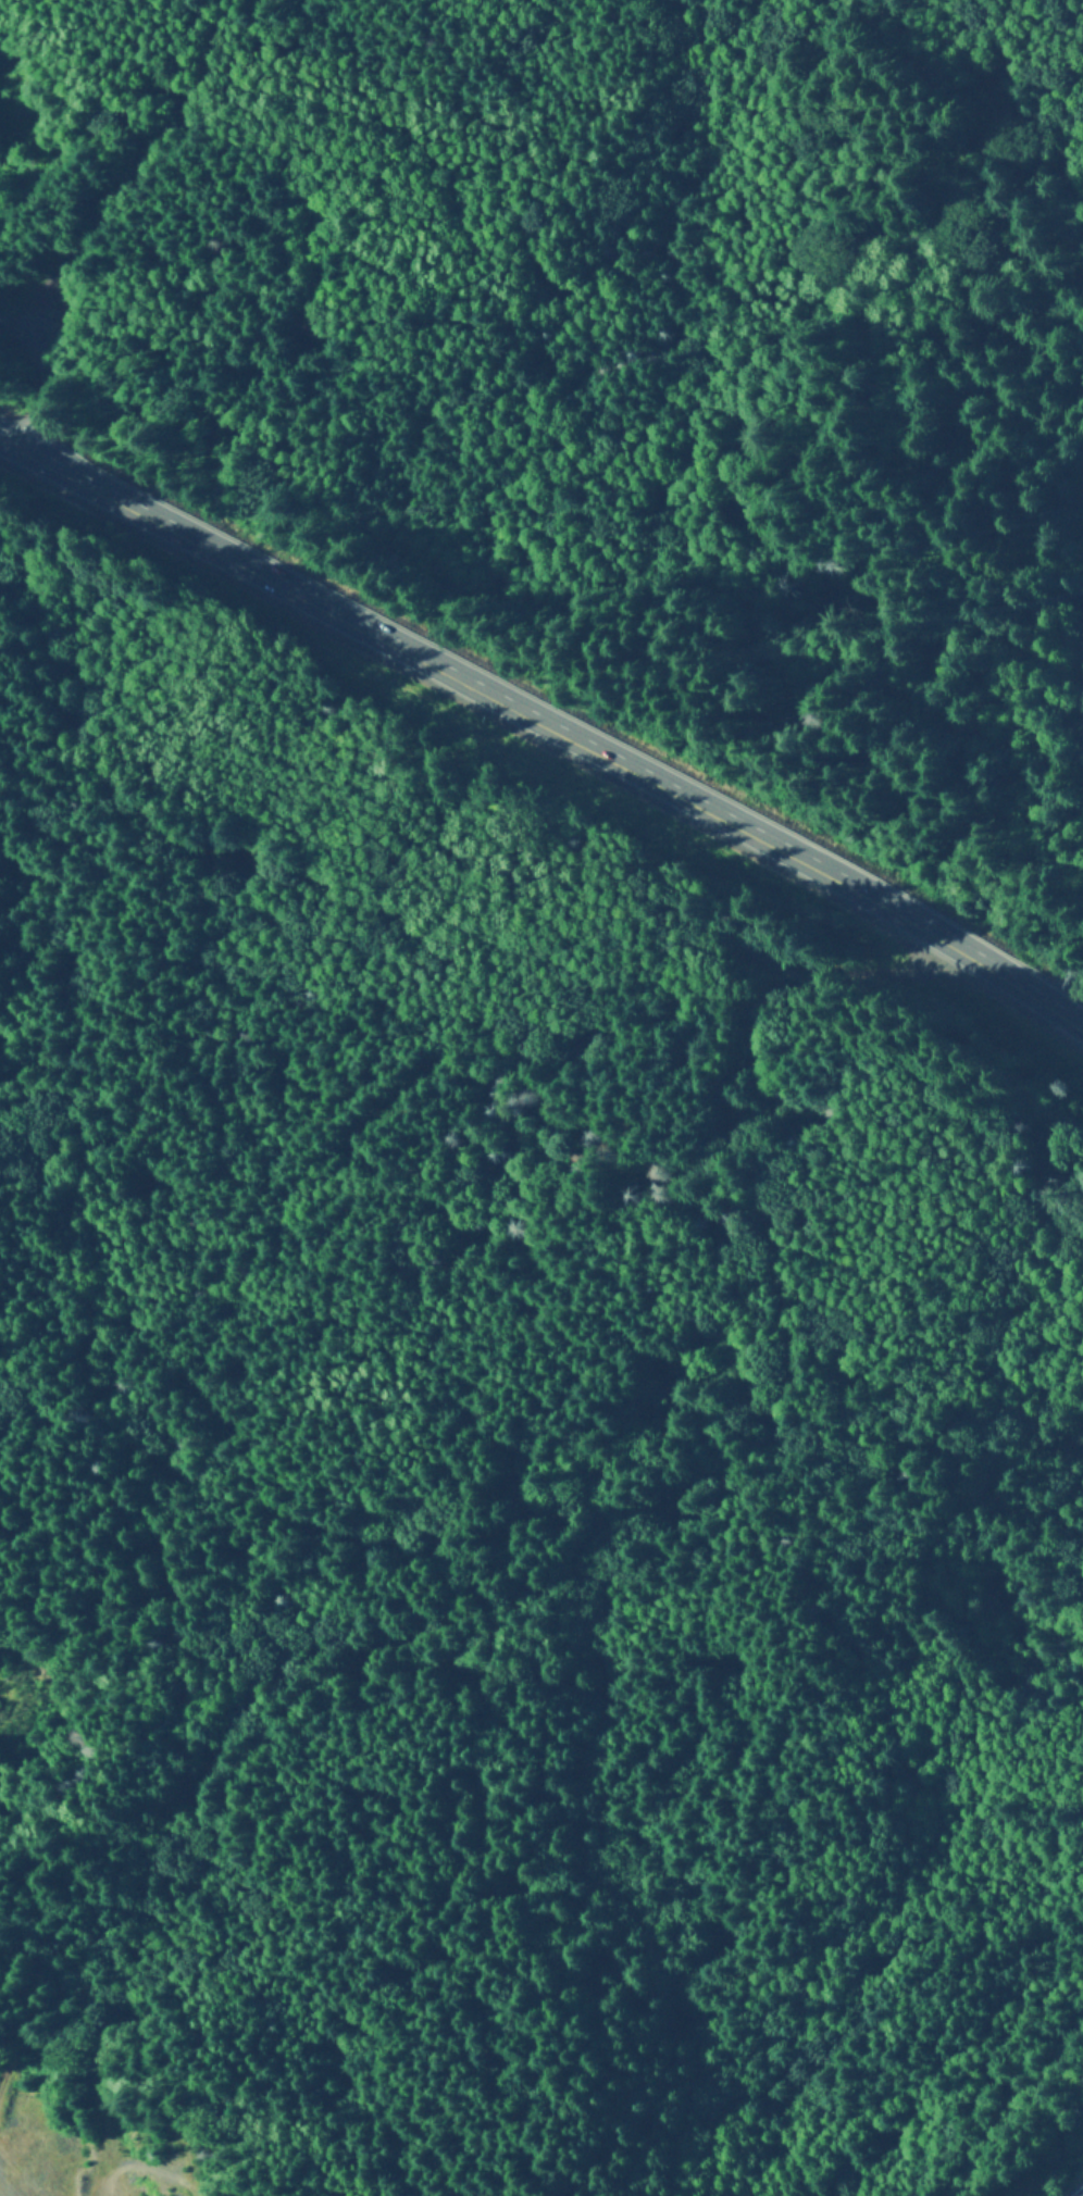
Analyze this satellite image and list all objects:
road: (545, 725)
road: (626, 1512)
power substation: (1079, 2192)

